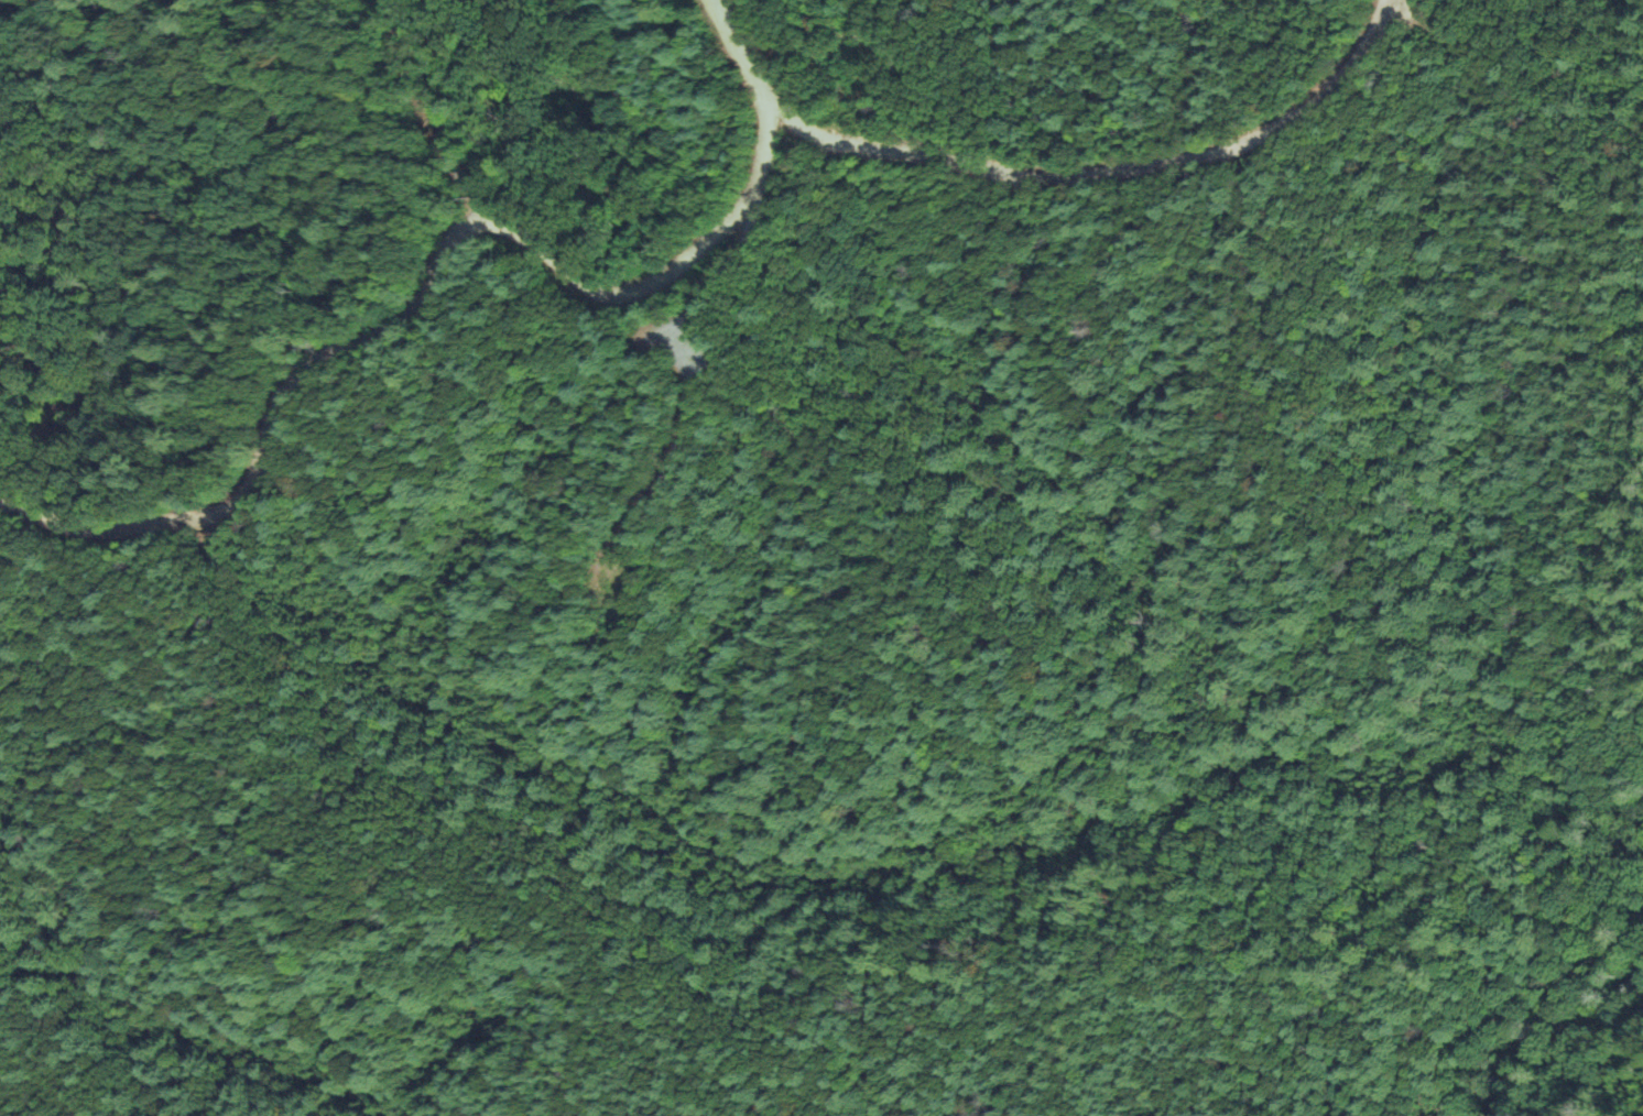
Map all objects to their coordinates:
road: (450, 245)

